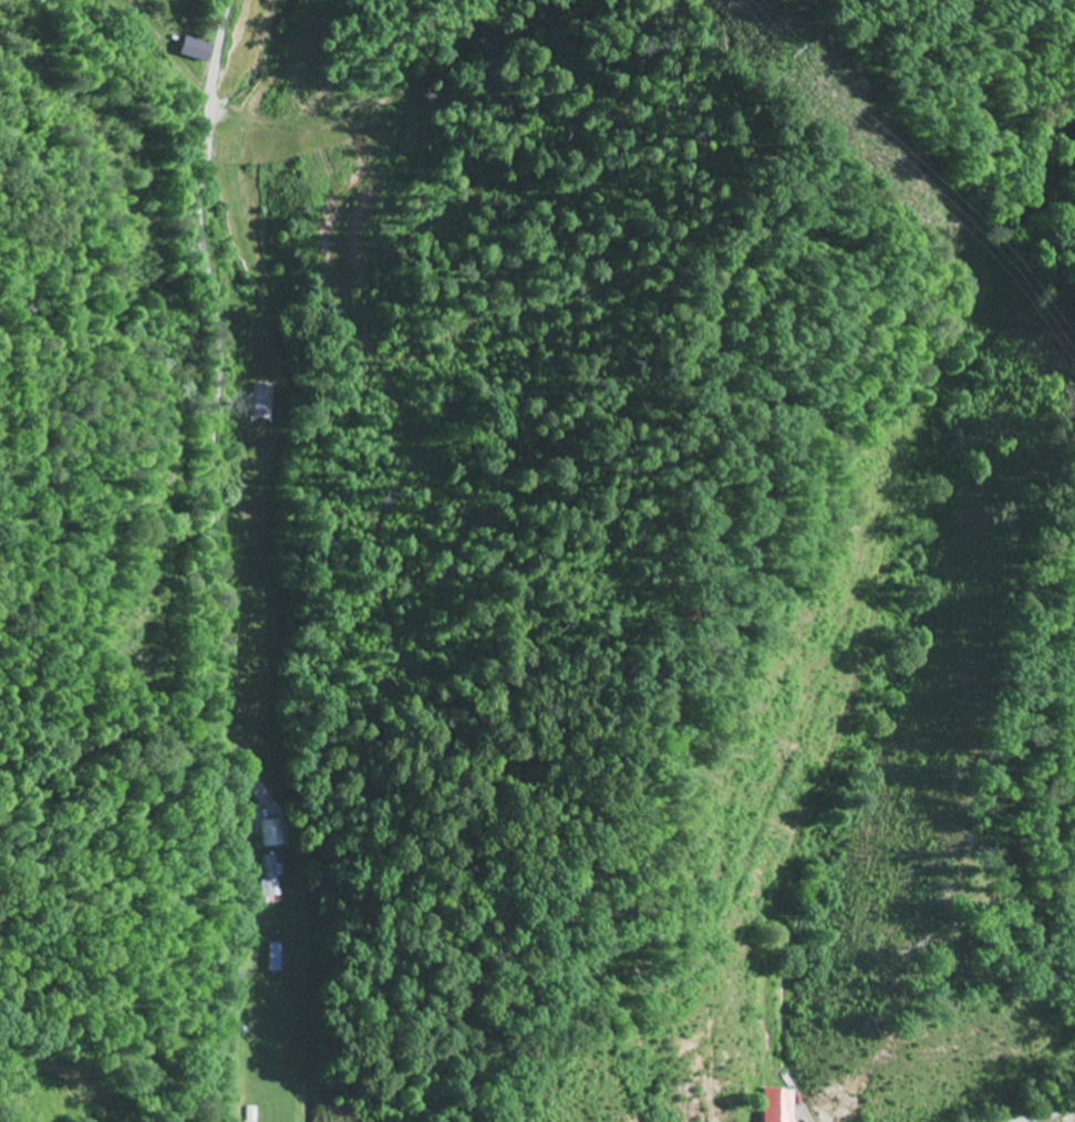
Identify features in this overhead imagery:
building: (193, 49)
road: (215, 559)
building: (278, 957)
building: (778, 1105)
road: (1052, 1114)

